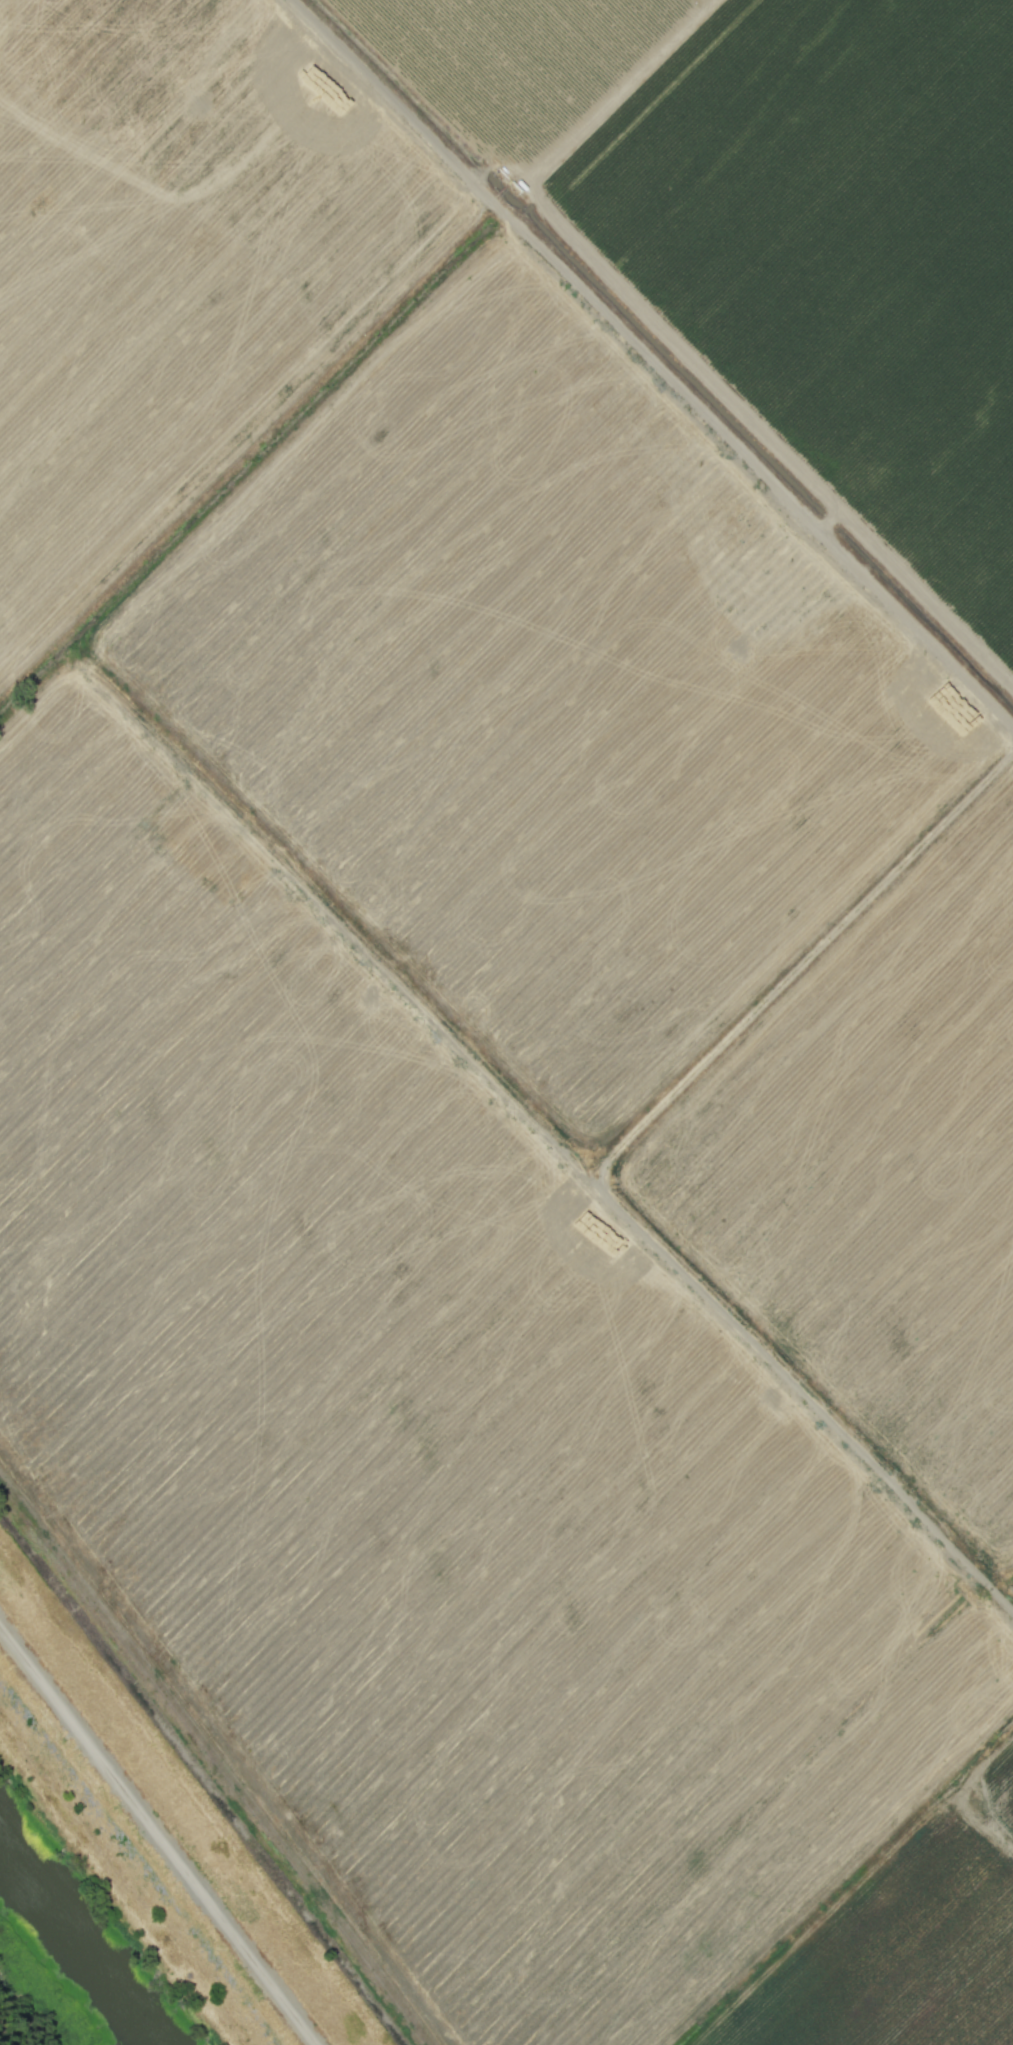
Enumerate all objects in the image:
road: (652, 364)
crop: (523, 985)
crop: (31, 2003)

